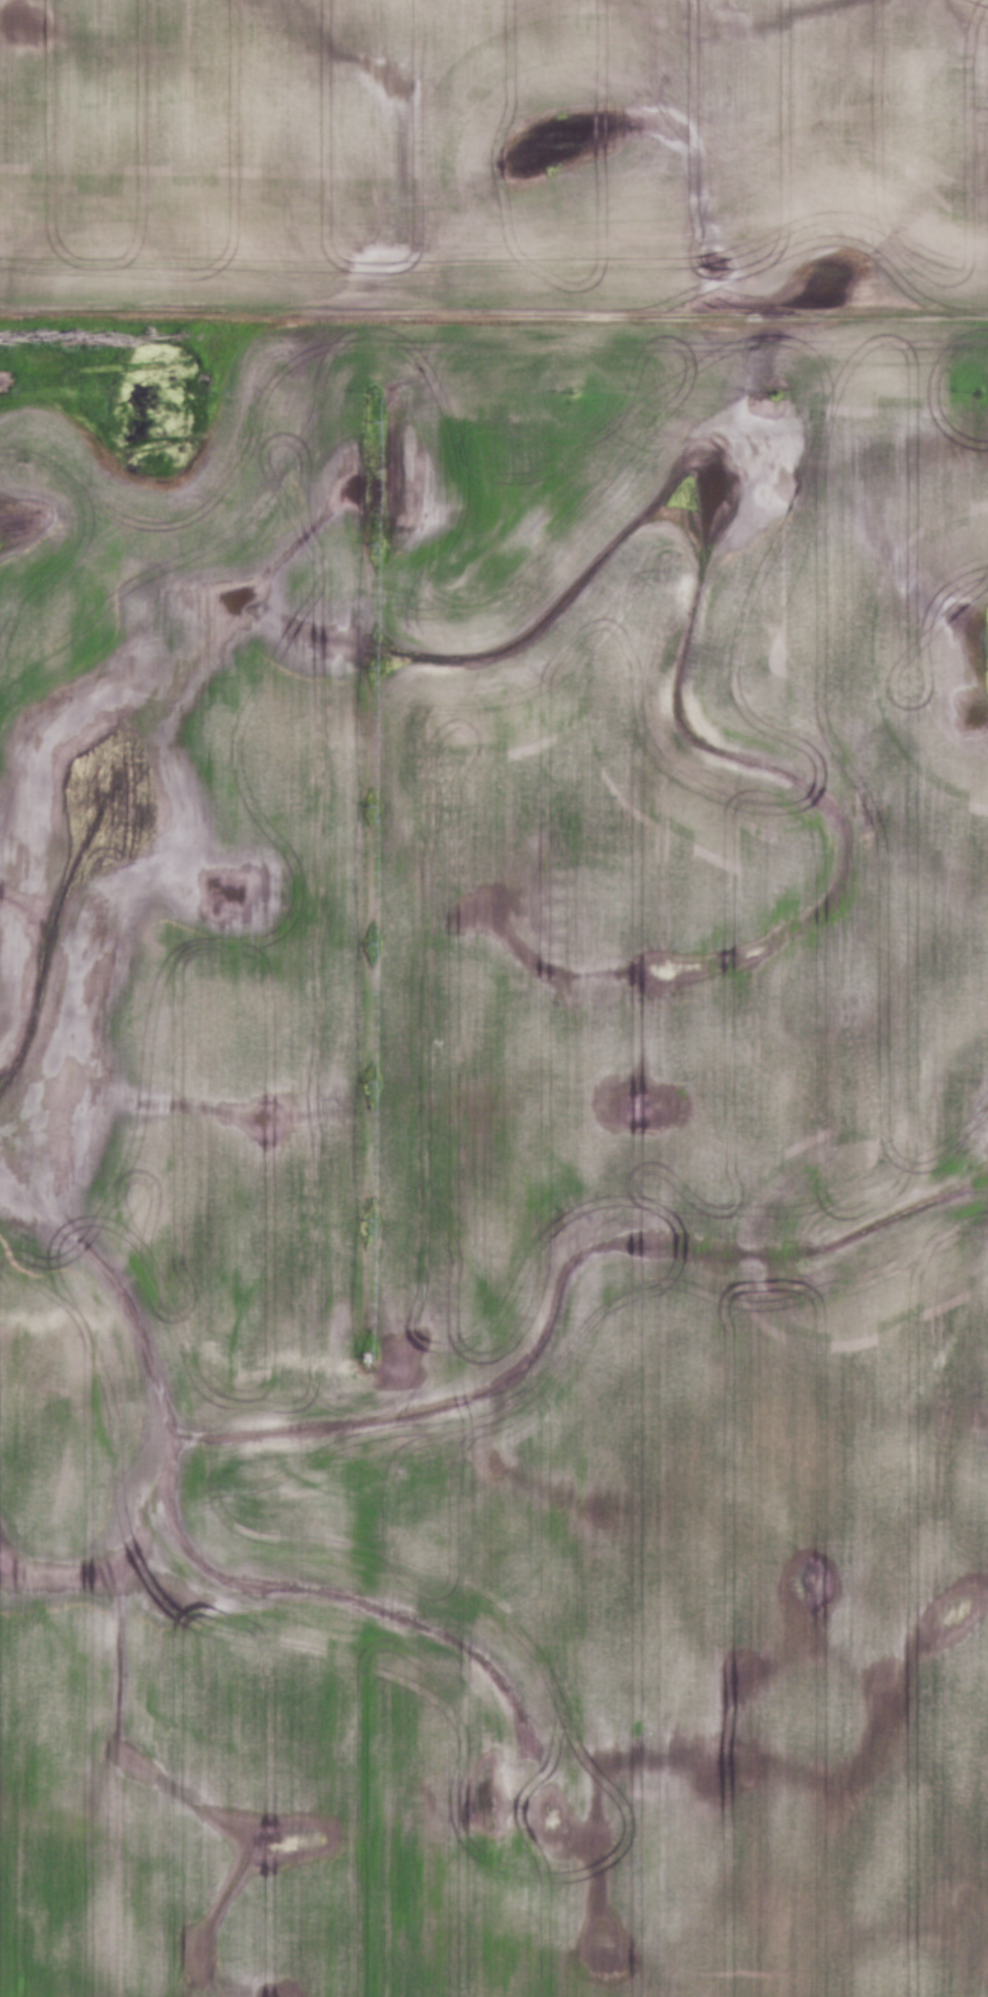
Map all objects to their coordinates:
road: (493, 314)

